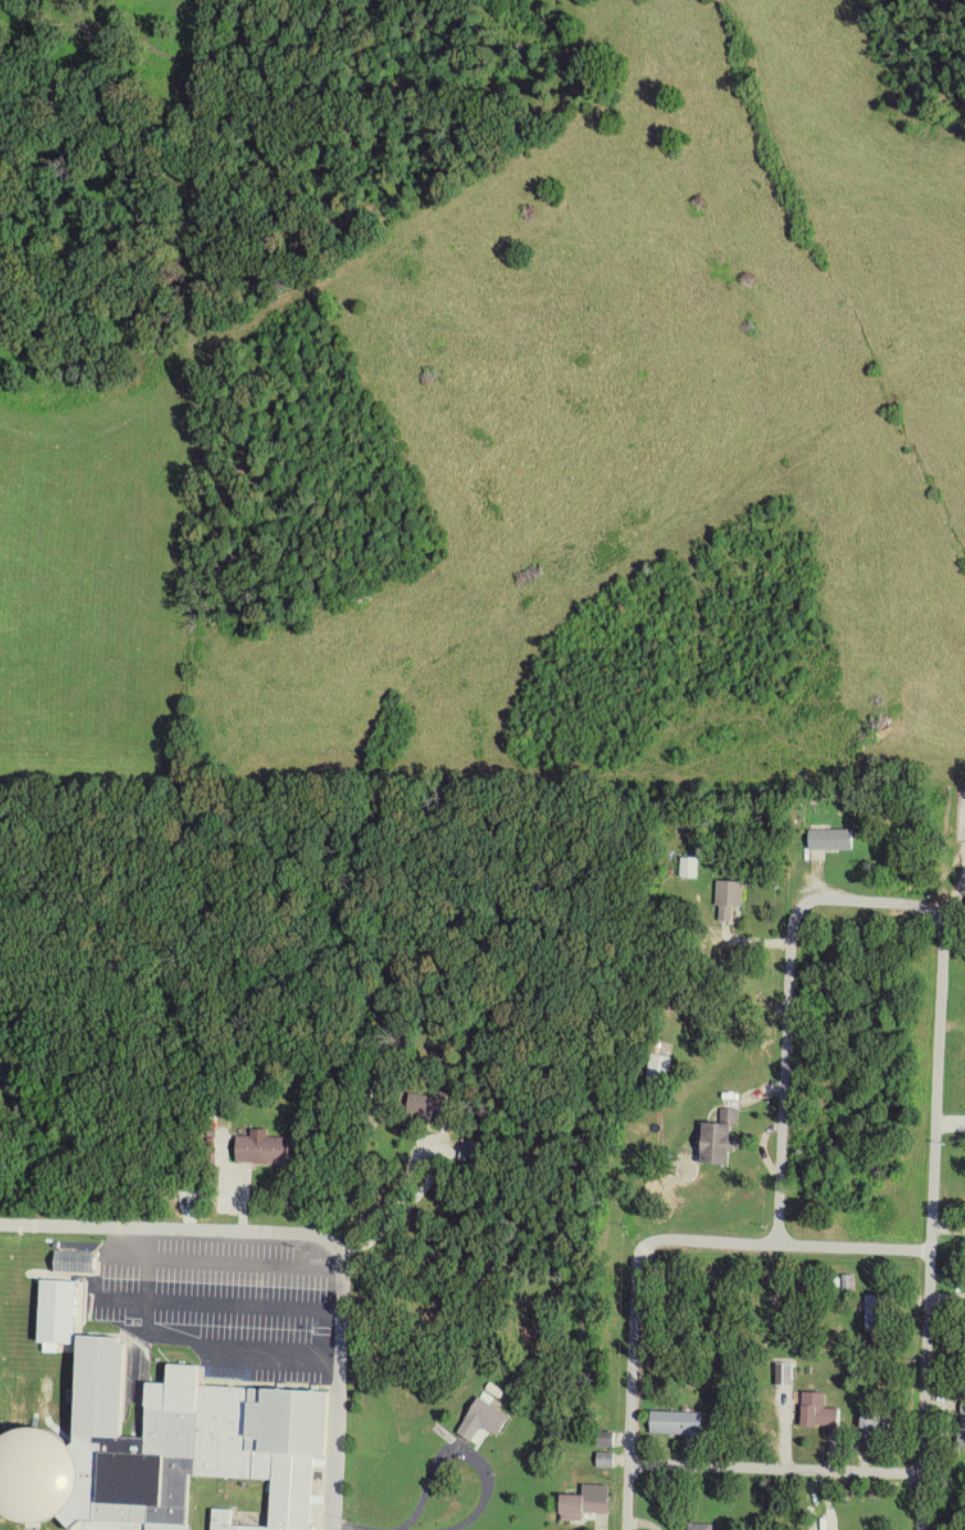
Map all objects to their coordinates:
road: (79, 192)
crop: (97, 566)
building: (833, 839)
building: (690, 868)
building: (731, 900)
road: (869, 901)
building: (659, 1067)
building: (428, 1104)
building: (721, 1139)
building: (264, 1148)
building: (470, 1149)
road: (168, 1227)
road: (786, 1244)
road: (140, 1245)
building: (77, 1262)
building: (849, 1281)
road: (146, 1282)
building: (877, 1312)
road: (340, 1384)
road: (633, 1386)
road: (925, 1390)
building: (826, 1416)
building: (486, 1419)
building: (879, 1420)
building: (678, 1423)
building: (963, 1424)
building: (608, 1439)
building: (204, 1448)
road: (466, 1453)
building: (606, 1460)
road: (776, 1469)
building: (585, 1505)
building: (703, 1526)
road: (352, 1527)

